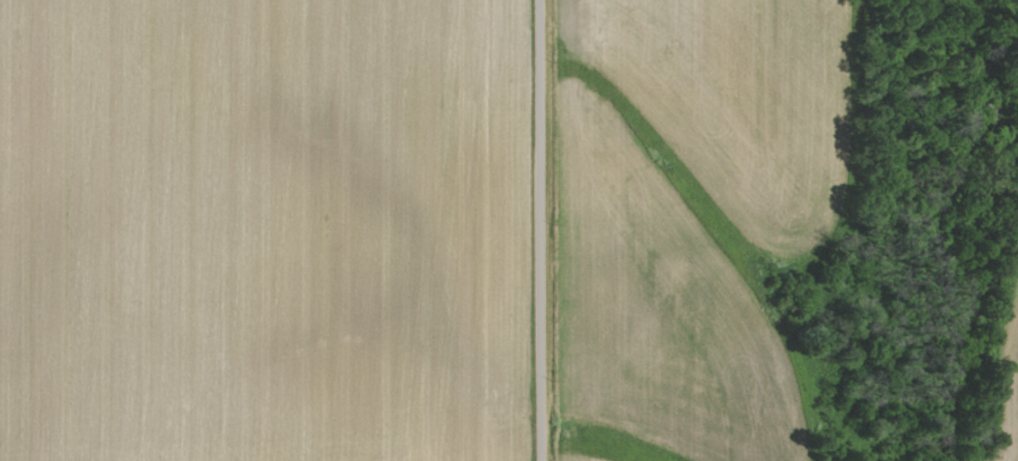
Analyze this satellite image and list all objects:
road: (538, 230)

